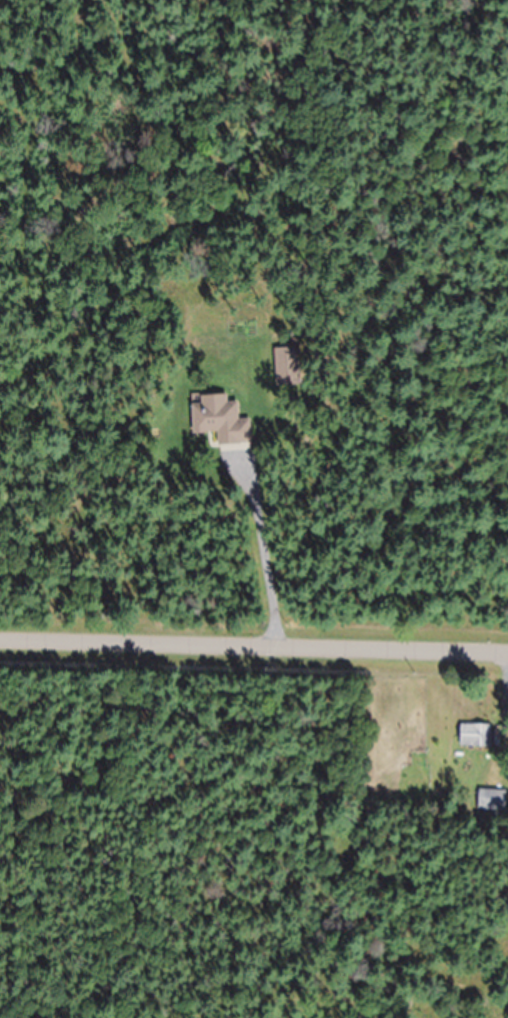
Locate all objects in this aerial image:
building: (286, 365)
building: (218, 420)
road: (254, 634)
building: (474, 736)
building: (491, 800)

